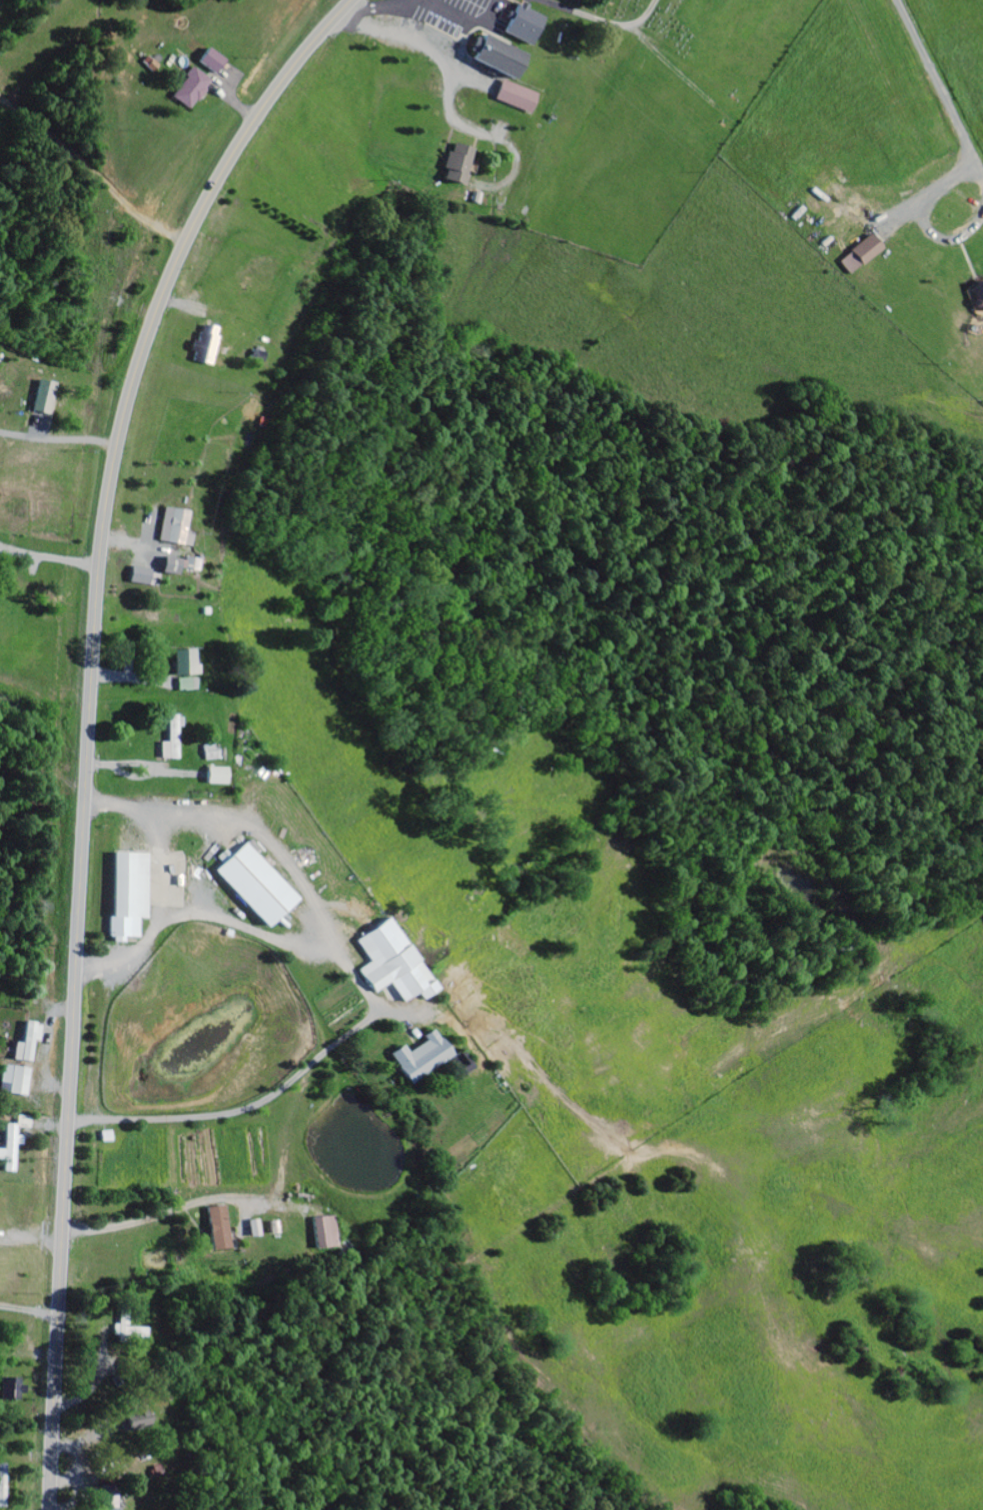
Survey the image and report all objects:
building: (528, 25)
building: (502, 56)
building: (215, 61)
building: (194, 89)
building: (519, 97)
building: (461, 164)
building: (863, 255)
building: (979, 298)
building: (207, 346)
building: (47, 398)
building: (176, 528)
building: (181, 566)
building: (146, 578)
building: (188, 663)
building: (186, 685)
road: (89, 722)
building: (174, 739)
building: (211, 753)
building: (219, 777)
building: (260, 886)
building: (132, 897)
road: (150, 914)
road: (239, 926)
building: (395, 964)
road: (364, 986)
building: (31, 1044)
building: (425, 1058)
building: (465, 1064)
building: (17, 1081)
building: (15, 1144)
road: (146, 1218)
building: (222, 1228)
building: (257, 1228)
building: (327, 1232)
road: (29, 1307)
building: (133, 1332)
road: (95, 1382)
building: (13, 1389)
building: (137, 1422)
building: (3, 1485)
building: (111, 1498)

